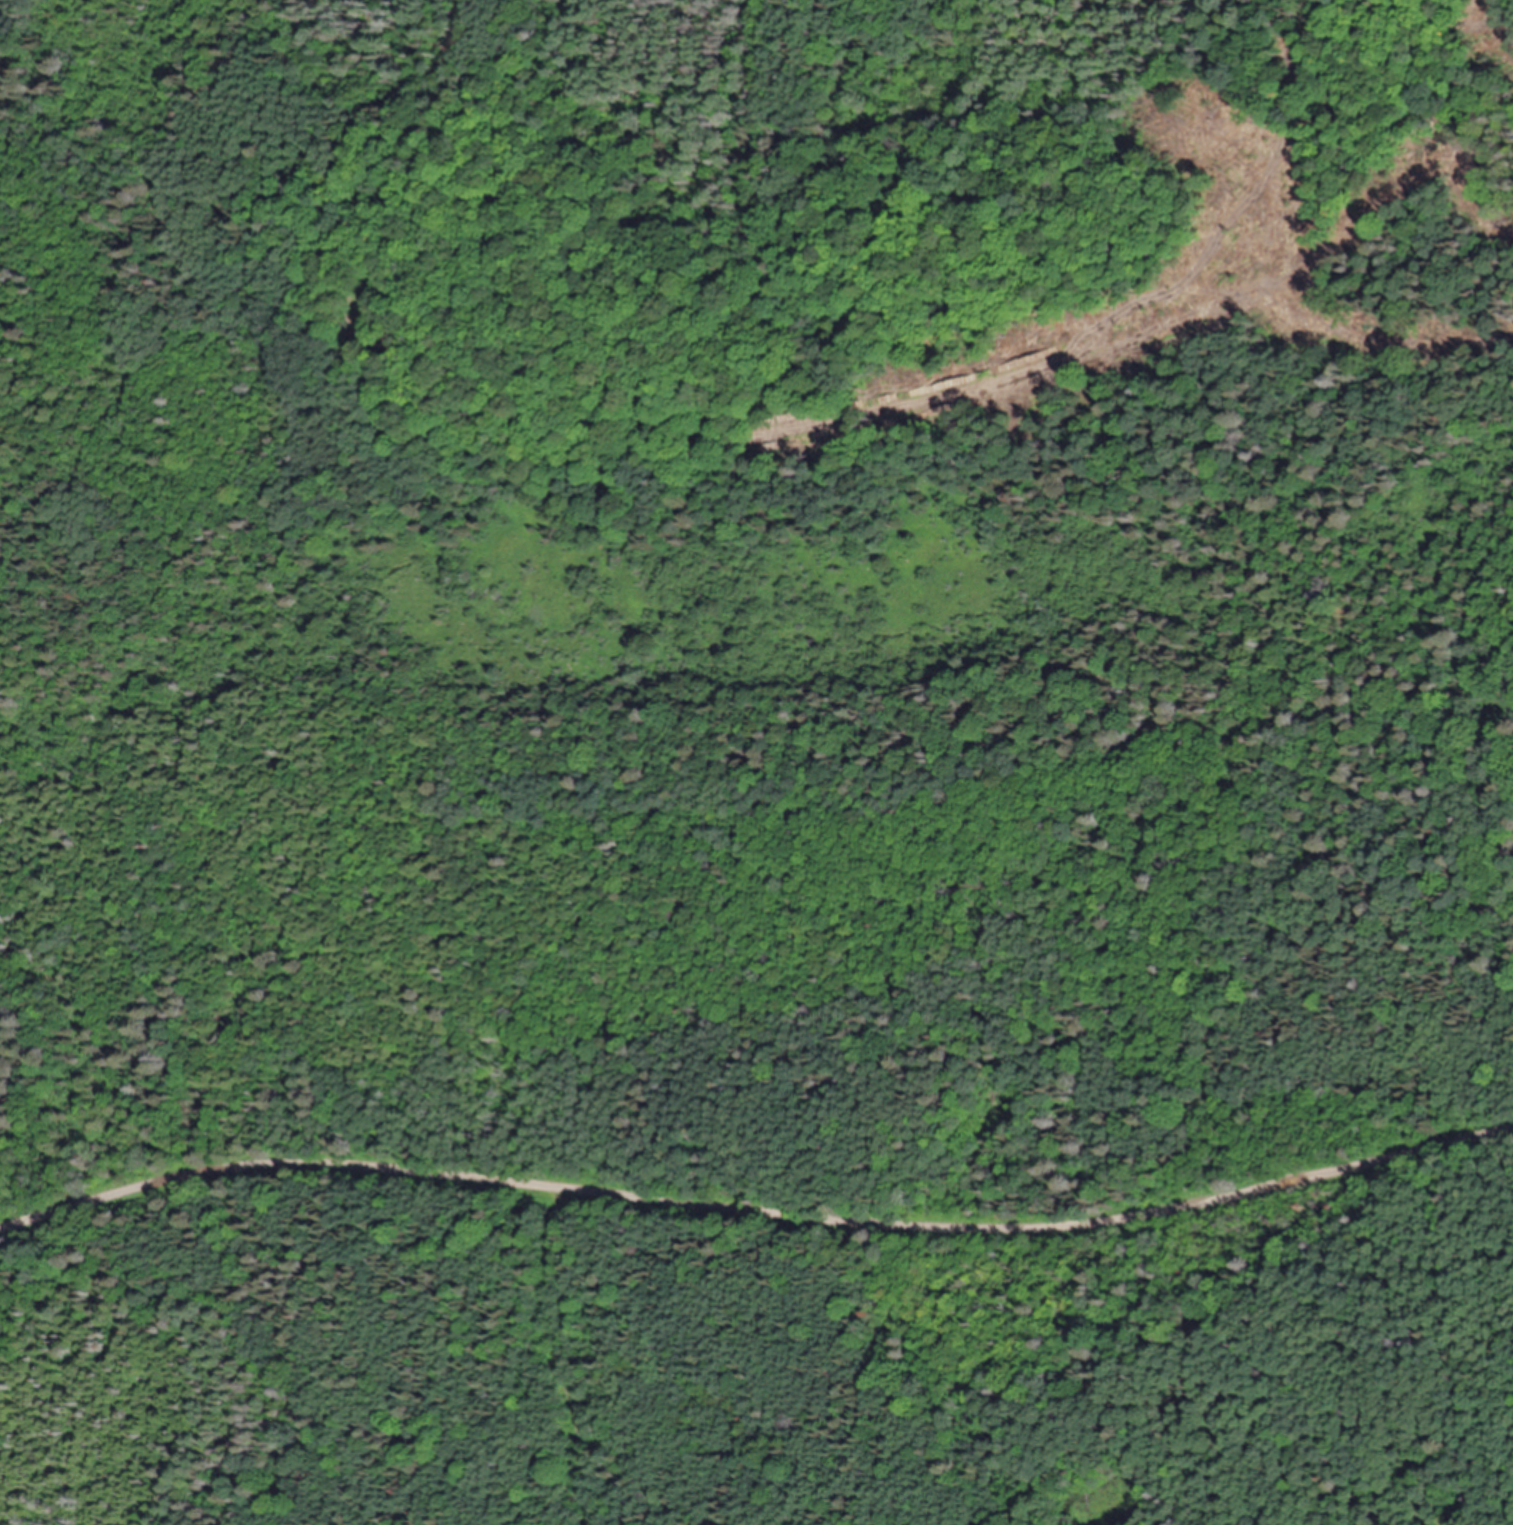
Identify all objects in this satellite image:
road: (756, 1207)
road: (562, 1356)

